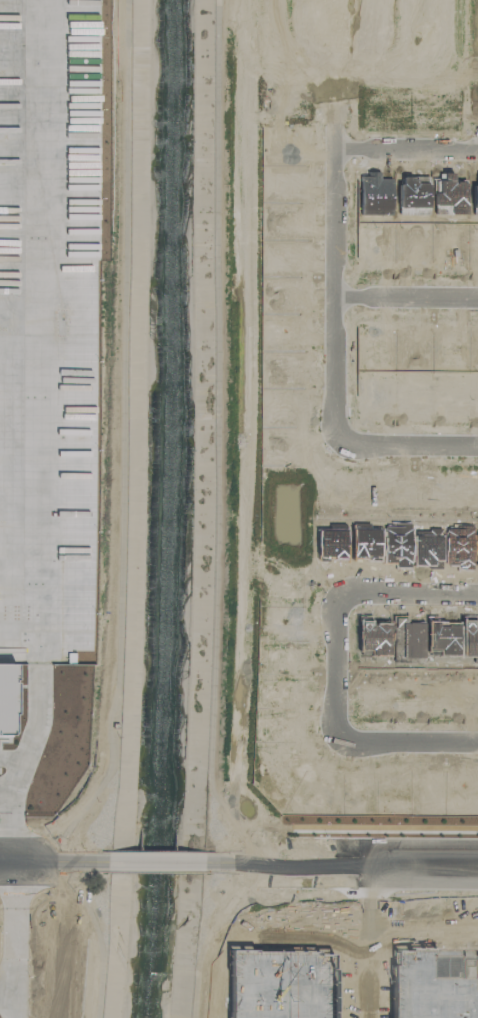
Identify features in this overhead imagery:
road: (334, 73)
road: (406, 147)
road: (331, 288)
road: (404, 297)
road: (51, 402)
road: (410, 439)
road: (407, 584)
road: (336, 663)
building: (8, 685)
road: (410, 736)
road: (12, 761)
road: (6, 799)
road: (12, 831)
road: (54, 863)
road: (157, 864)
road: (341, 865)
road: (372, 927)
road: (12, 940)
road: (357, 941)
building: (434, 982)
building: (280, 984)
road: (6, 993)

